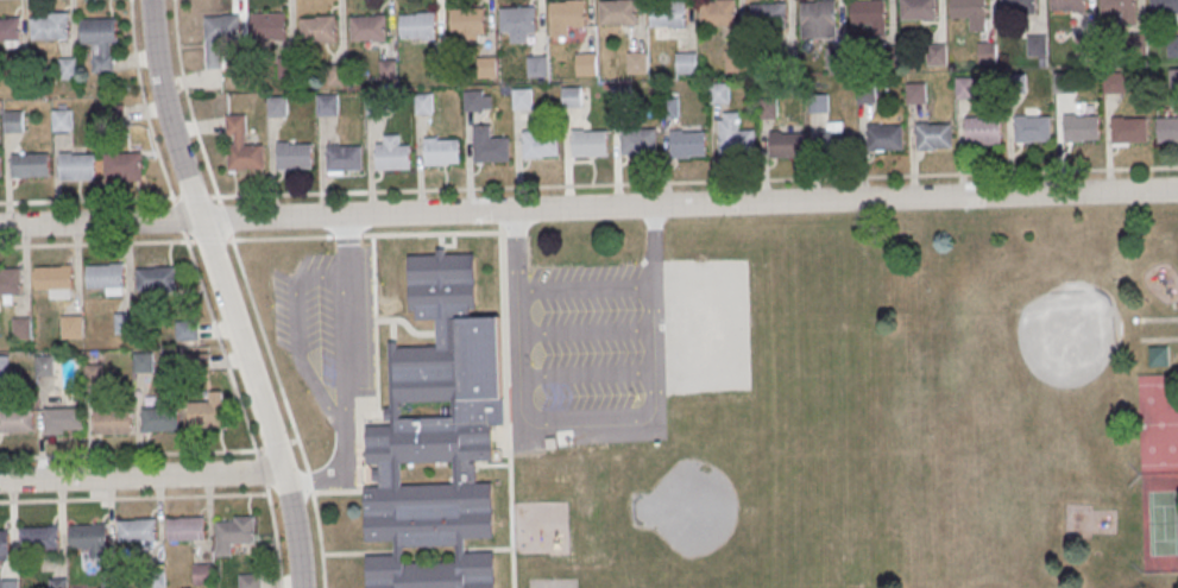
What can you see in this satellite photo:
building: (1066, 5)
building: (1164, 6)
building: (1019, 7)
building: (1119, 7)
building: (969, 8)
building: (918, 10)
building: (869, 12)
building: (618, 13)
building: (719, 14)
building: (818, 14)
building: (668, 15)
building: (566, 17)
building: (769, 17)
building: (518, 24)
building: (468, 25)
building: (269, 27)
building: (418, 27)
building: (49, 30)
building: (368, 30)
building: (10, 31)
building: (319, 31)
building: (99, 32)
building: (220, 38)
building: (1136, 45)
building: (1086, 46)
building: (1037, 48)
building: (1173, 48)
building: (987, 55)
building: (887, 57)
building: (937, 57)
building: (837, 59)
building: (788, 61)
building: (736, 62)
building: (638, 64)
building: (686, 64)
building: (586, 67)
building: (537, 68)
building: (288, 69)
building: (440, 69)
building: (487, 69)
building: (388, 71)
building: (336, 76)
building: (1173, 81)
building: (1116, 84)
building: (1015, 86)
building: (1065, 86)
building: (965, 89)
building: (916, 94)
building: (719, 95)
building: (868, 95)
building: (621, 97)
building: (572, 99)
road: (143, 100)
building: (522, 100)
building: (473, 102)
building: (818, 103)
building: (376, 105)
building: (326, 106)
building: (423, 106)
building: (277, 108)
building: (670, 109)
building: (768, 109)
building: (61, 120)
building: (13, 121)
building: (1082, 129)
building: (1033, 131)
building: (1166, 132)
building: (982, 133)
building: (1129, 133)
building: (736, 138)
building: (934, 138)
building: (884, 139)
building: (638, 143)
building: (540, 145)
building: (588, 145)
building: (688, 145)
building: (786, 146)
building: (834, 146)
building: (491, 150)
building: (442, 153)
building: (294, 158)
building: (392, 158)
building: (245, 159)
building: (344, 159)
building: (30, 164)
building: (122, 165)
building: (76, 166)
building: (0, 169)
road: (597, 184)
road: (588, 208)
road: (226, 225)
building: (106, 276)
building: (156, 278)
building: (53, 279)
building: (10, 280)
road: (585, 287)
road: (227, 292)
building: (122, 322)
building: (70, 324)
building: (20, 327)
building: (187, 330)
road: (587, 331)
road: (300, 336)
building: (1158, 355)
building: (143, 360)
park: (1044, 363)
building: (43, 365)
building: (1, 368)
building: (92, 373)
road: (590, 374)
road: (348, 380)
park: (1013, 402)
building: (204, 412)
building: (61, 418)
building: (158, 418)
building: (14, 419)
building: (111, 419)
park: (1158, 424)
road: (590, 426)
building: (437, 435)
road: (252, 443)
road: (140, 476)
road: (263, 478)
park: (726, 506)
road: (315, 511)
park: (1159, 523)
building: (184, 527)
building: (136, 531)
building: (233, 532)
building: (37, 537)
building: (88, 538)
building: (2, 540)
building: (202, 573)
building: (157, 580)
building: (248, 580)
building: (106, 581)
building: (8, 584)
building: (57, 584)

